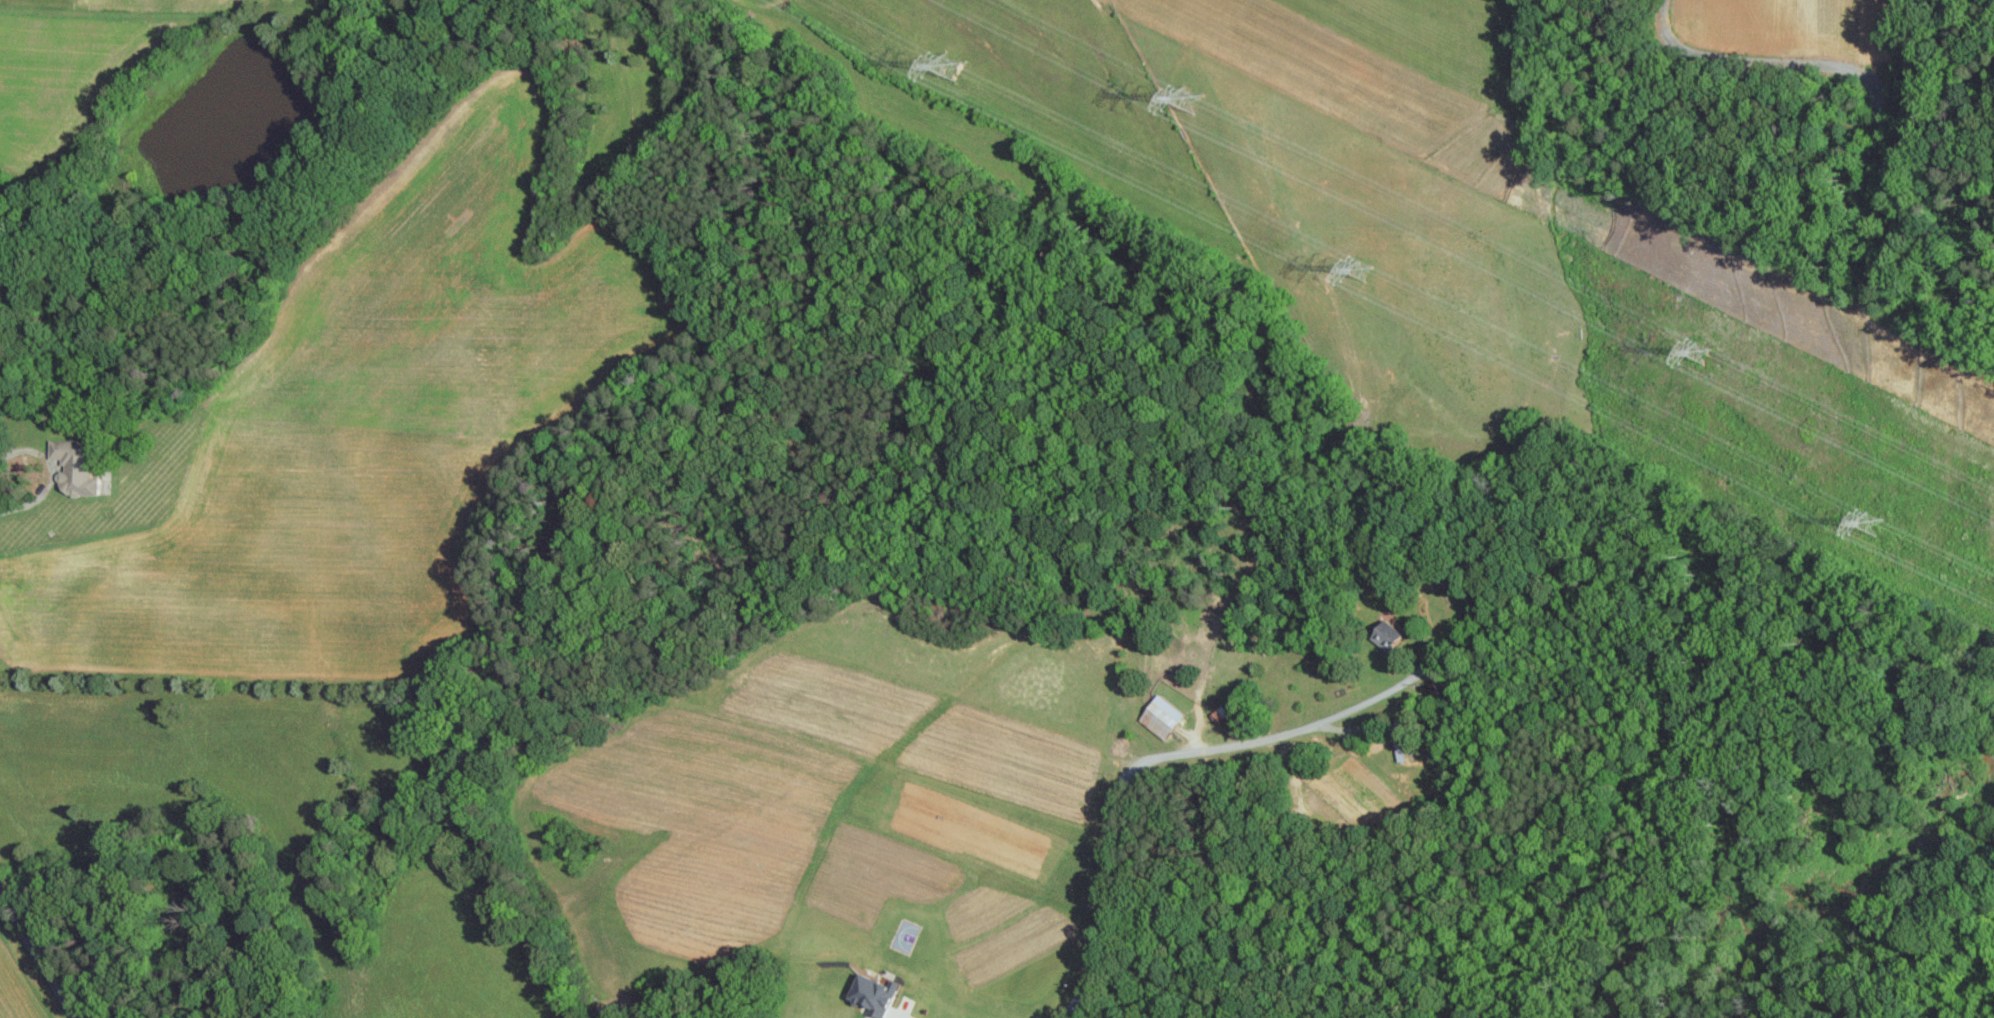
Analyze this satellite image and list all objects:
power tower: (958, 68)
power tower: (1195, 101)
power tower: (1359, 270)
power tower: (1700, 353)
building: (81, 466)
road: (51, 475)
power tower: (1869, 524)
building: (1382, 633)
building: (1216, 714)
building: (1158, 716)
road: (1146, 760)
road: (38, 954)
building: (868, 993)
road: (902, 1014)

